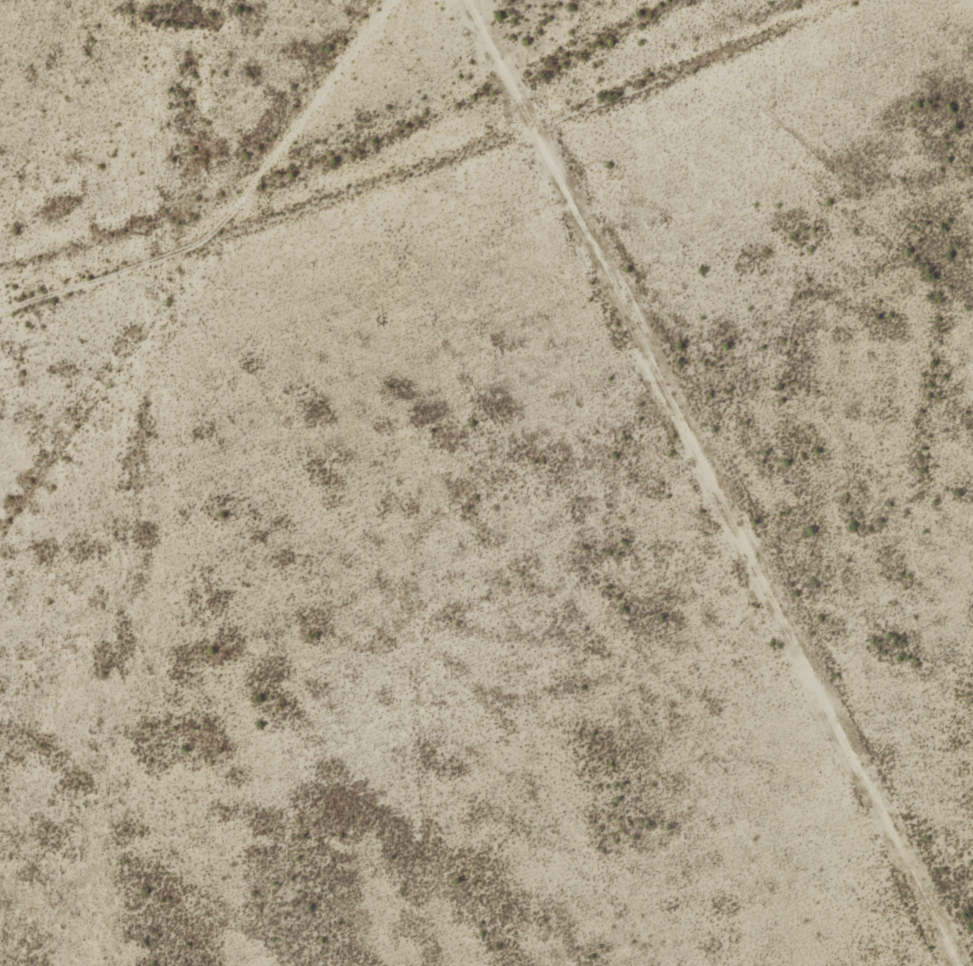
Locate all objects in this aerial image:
road: (426, 170)

